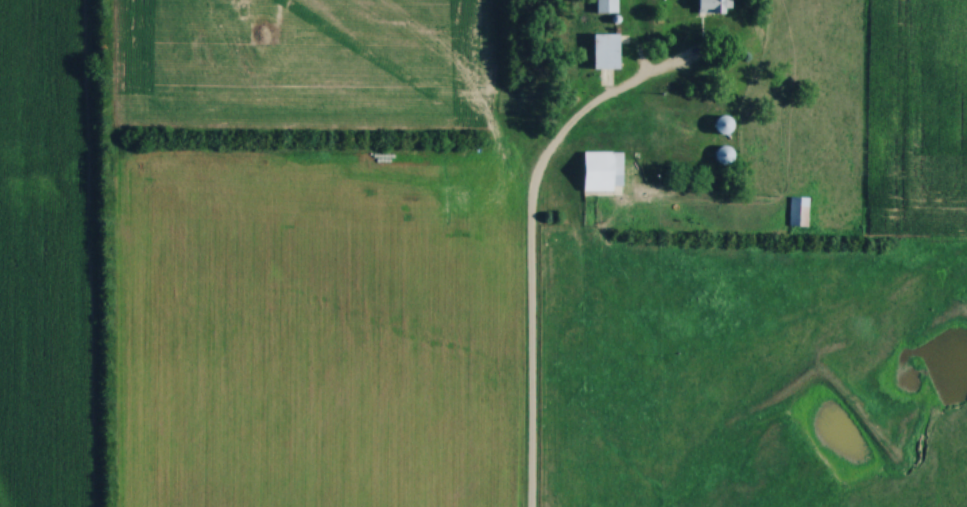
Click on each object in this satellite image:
building: (609, 6)
building: (718, 7)
building: (608, 51)
building: (733, 125)
building: (605, 172)
building: (801, 211)
road: (530, 246)

